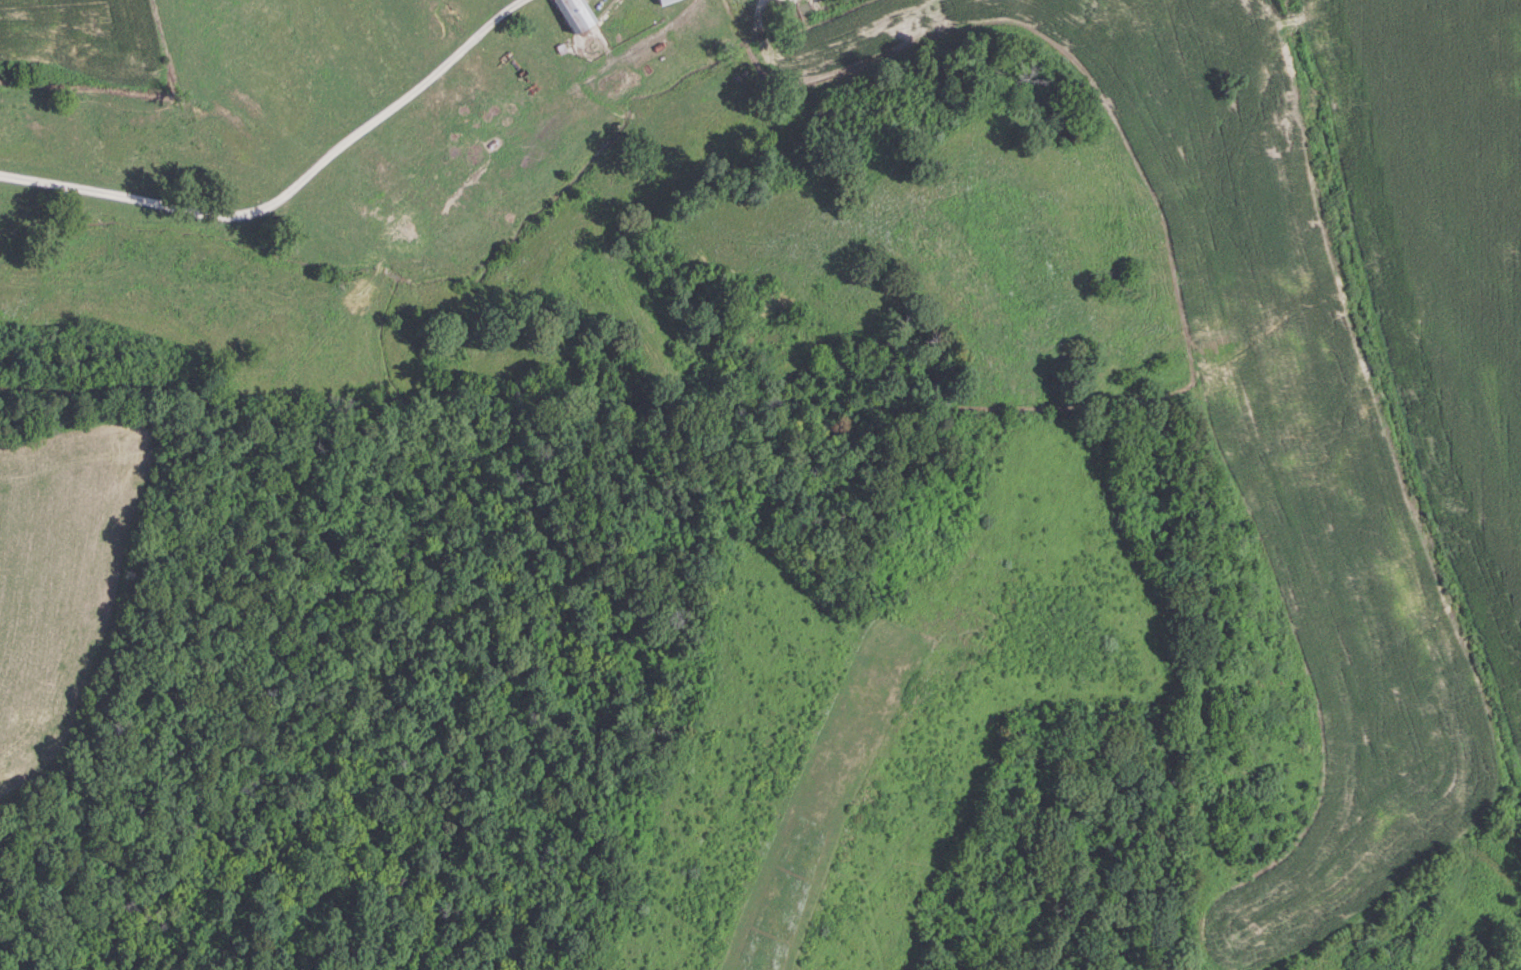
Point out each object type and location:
building: (661, 1)
building: (572, 13)
road: (289, 190)
crop: (1446, 259)

